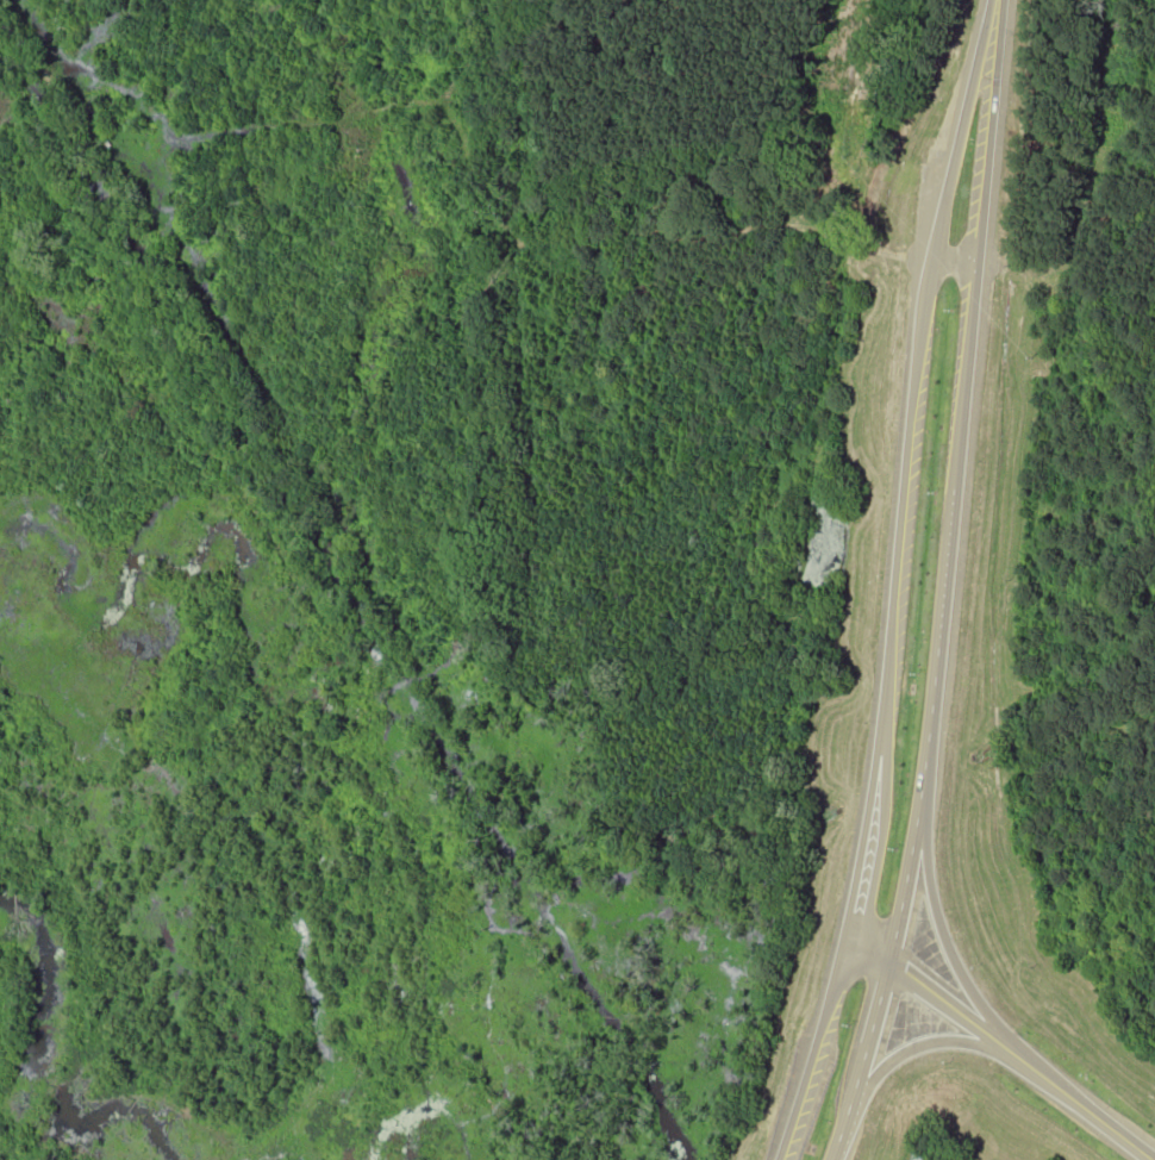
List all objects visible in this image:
road: (954, 261)
road: (970, 325)
road: (893, 582)
road: (918, 806)
road: (942, 930)
road: (1001, 1044)
road: (924, 1046)
road: (861, 1060)

